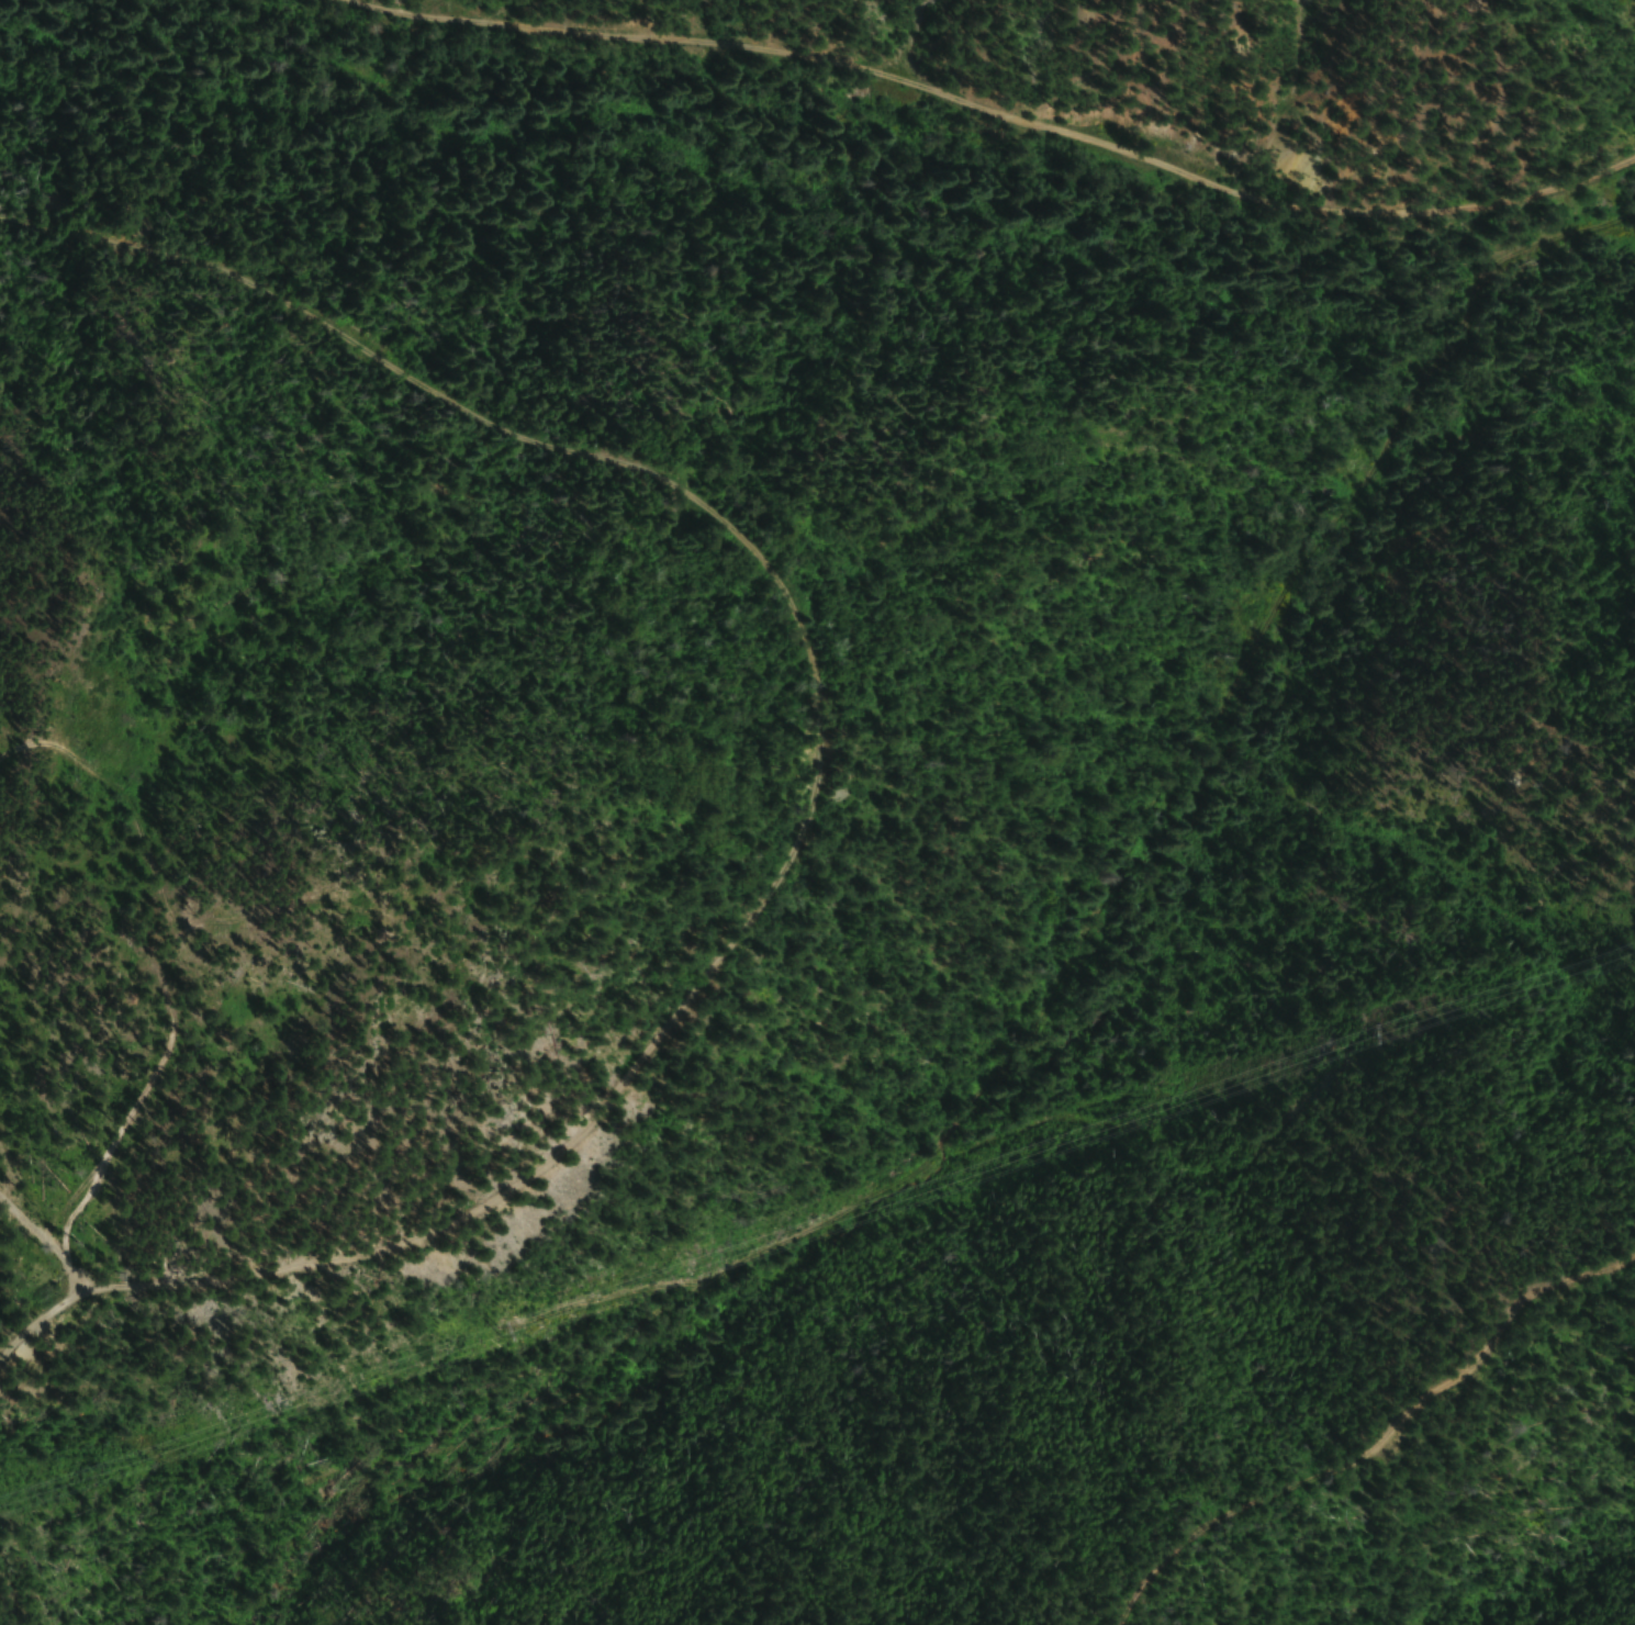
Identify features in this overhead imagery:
road: (970, 105)
road: (822, 763)

